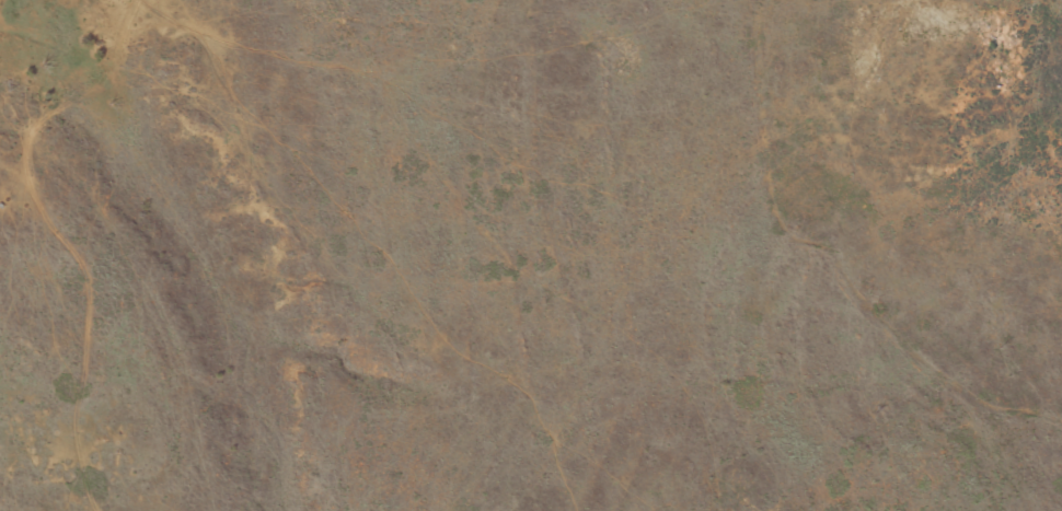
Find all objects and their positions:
road: (785, 229)

